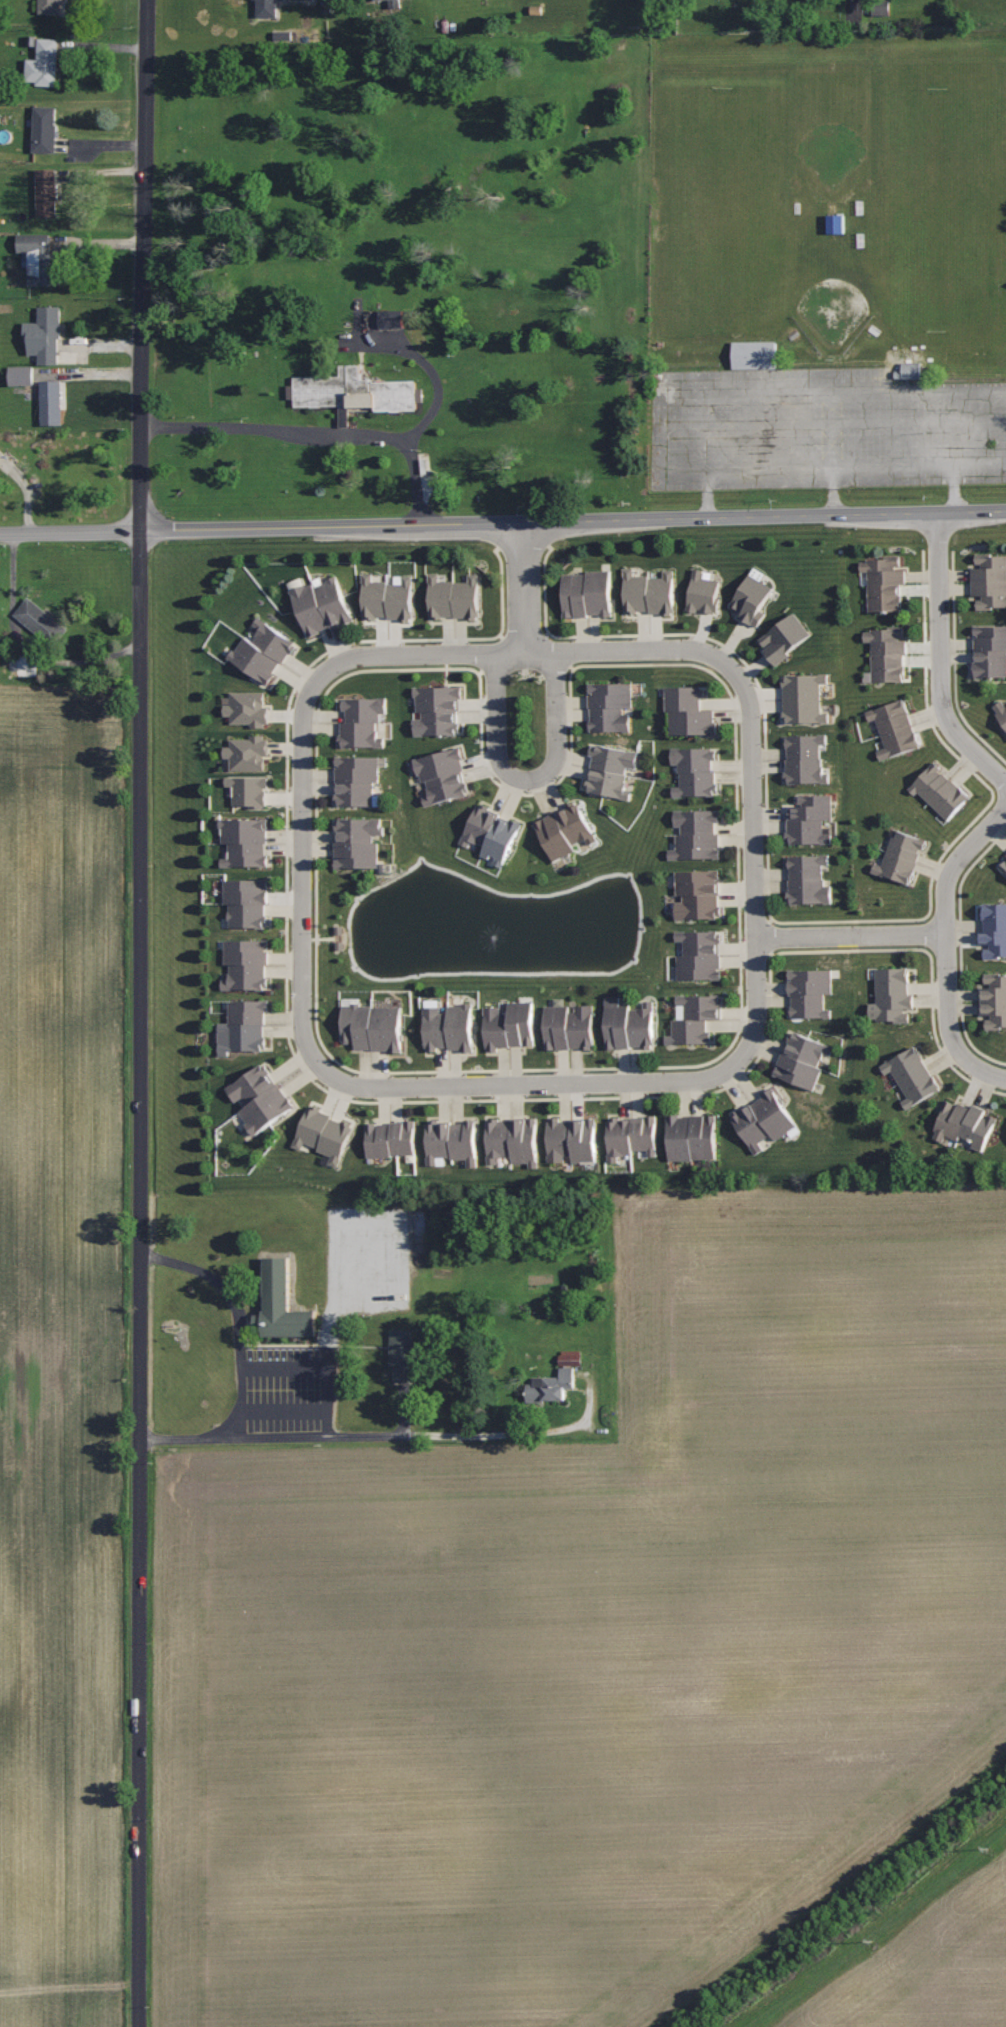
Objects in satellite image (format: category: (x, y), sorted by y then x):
building: (372, 1)
building: (50, 7)
building: (267, 8)
building: (882, 8)
road: (854, 12)
building: (45, 64)
building: (44, 129)
park: (730, 130)
park: (832, 151)
building: (47, 192)
park: (939, 210)
building: (837, 224)
building: (39, 257)
park: (826, 263)
park: (728, 287)
park: (834, 310)
building: (391, 319)
building: (45, 336)
building: (755, 354)
road: (428, 368)
building: (908, 372)
building: (22, 376)
building: (353, 392)
building: (51, 402)
road: (318, 431)
parking lot: (821, 432)
building: (1, 454)
road: (573, 520)
road: (70, 532)
building: (989, 579)
building: (884, 582)
road: (524, 588)
building: (649, 591)
building: (703, 592)
building: (587, 593)
building: (453, 596)
building: (387, 599)
building: (752, 599)
building: (322, 604)
building: (40, 622)
building: (784, 637)
building: (990, 650)
building: (263, 651)
building: (887, 651)
road: (940, 658)
road: (746, 696)
building: (803, 697)
building: (610, 705)
building: (248, 708)
building: (438, 709)
building: (1001, 709)
building: (688, 710)
building: (362, 719)
building: (894, 728)
building: (247, 752)
building: (805, 758)
building: (611, 770)
building: (695, 770)
building: (442, 773)
building: (358, 779)
road: (527, 780)
building: (250, 791)
building: (941, 791)
building: (811, 819)
building: (565, 829)
road: (302, 831)
building: (490, 832)
building: (696, 834)
building: (246, 841)
building: (358, 841)
building: (900, 856)
building: (1003, 865)
building: (808, 878)
building: (698, 894)
building: (247, 900)
building: (994, 930)
road: (850, 936)
building: (339, 937)
road: (946, 946)
building: (700, 953)
building: (247, 964)
building: (810, 991)
building: (891, 994)
building: (994, 999)
road: (140, 1013)
building: (695, 1017)
building: (247, 1024)
building: (627, 1024)
building: (374, 1025)
building: (508, 1025)
building: (568, 1026)
building: (449, 1027)
building: (802, 1060)
building: (912, 1075)
road: (656, 1081)
building: (260, 1097)
building: (764, 1119)
building: (964, 1123)
building: (323, 1133)
building: (632, 1135)
building: (691, 1137)
building: (391, 1138)
building: (572, 1138)
building: (514, 1139)
building: (451, 1140)
building: (282, 1305)
road: (242, 1354)
building: (403, 1356)
road: (318, 1366)
building: (556, 1377)
road: (414, 1434)
railway: (852, 1909)

